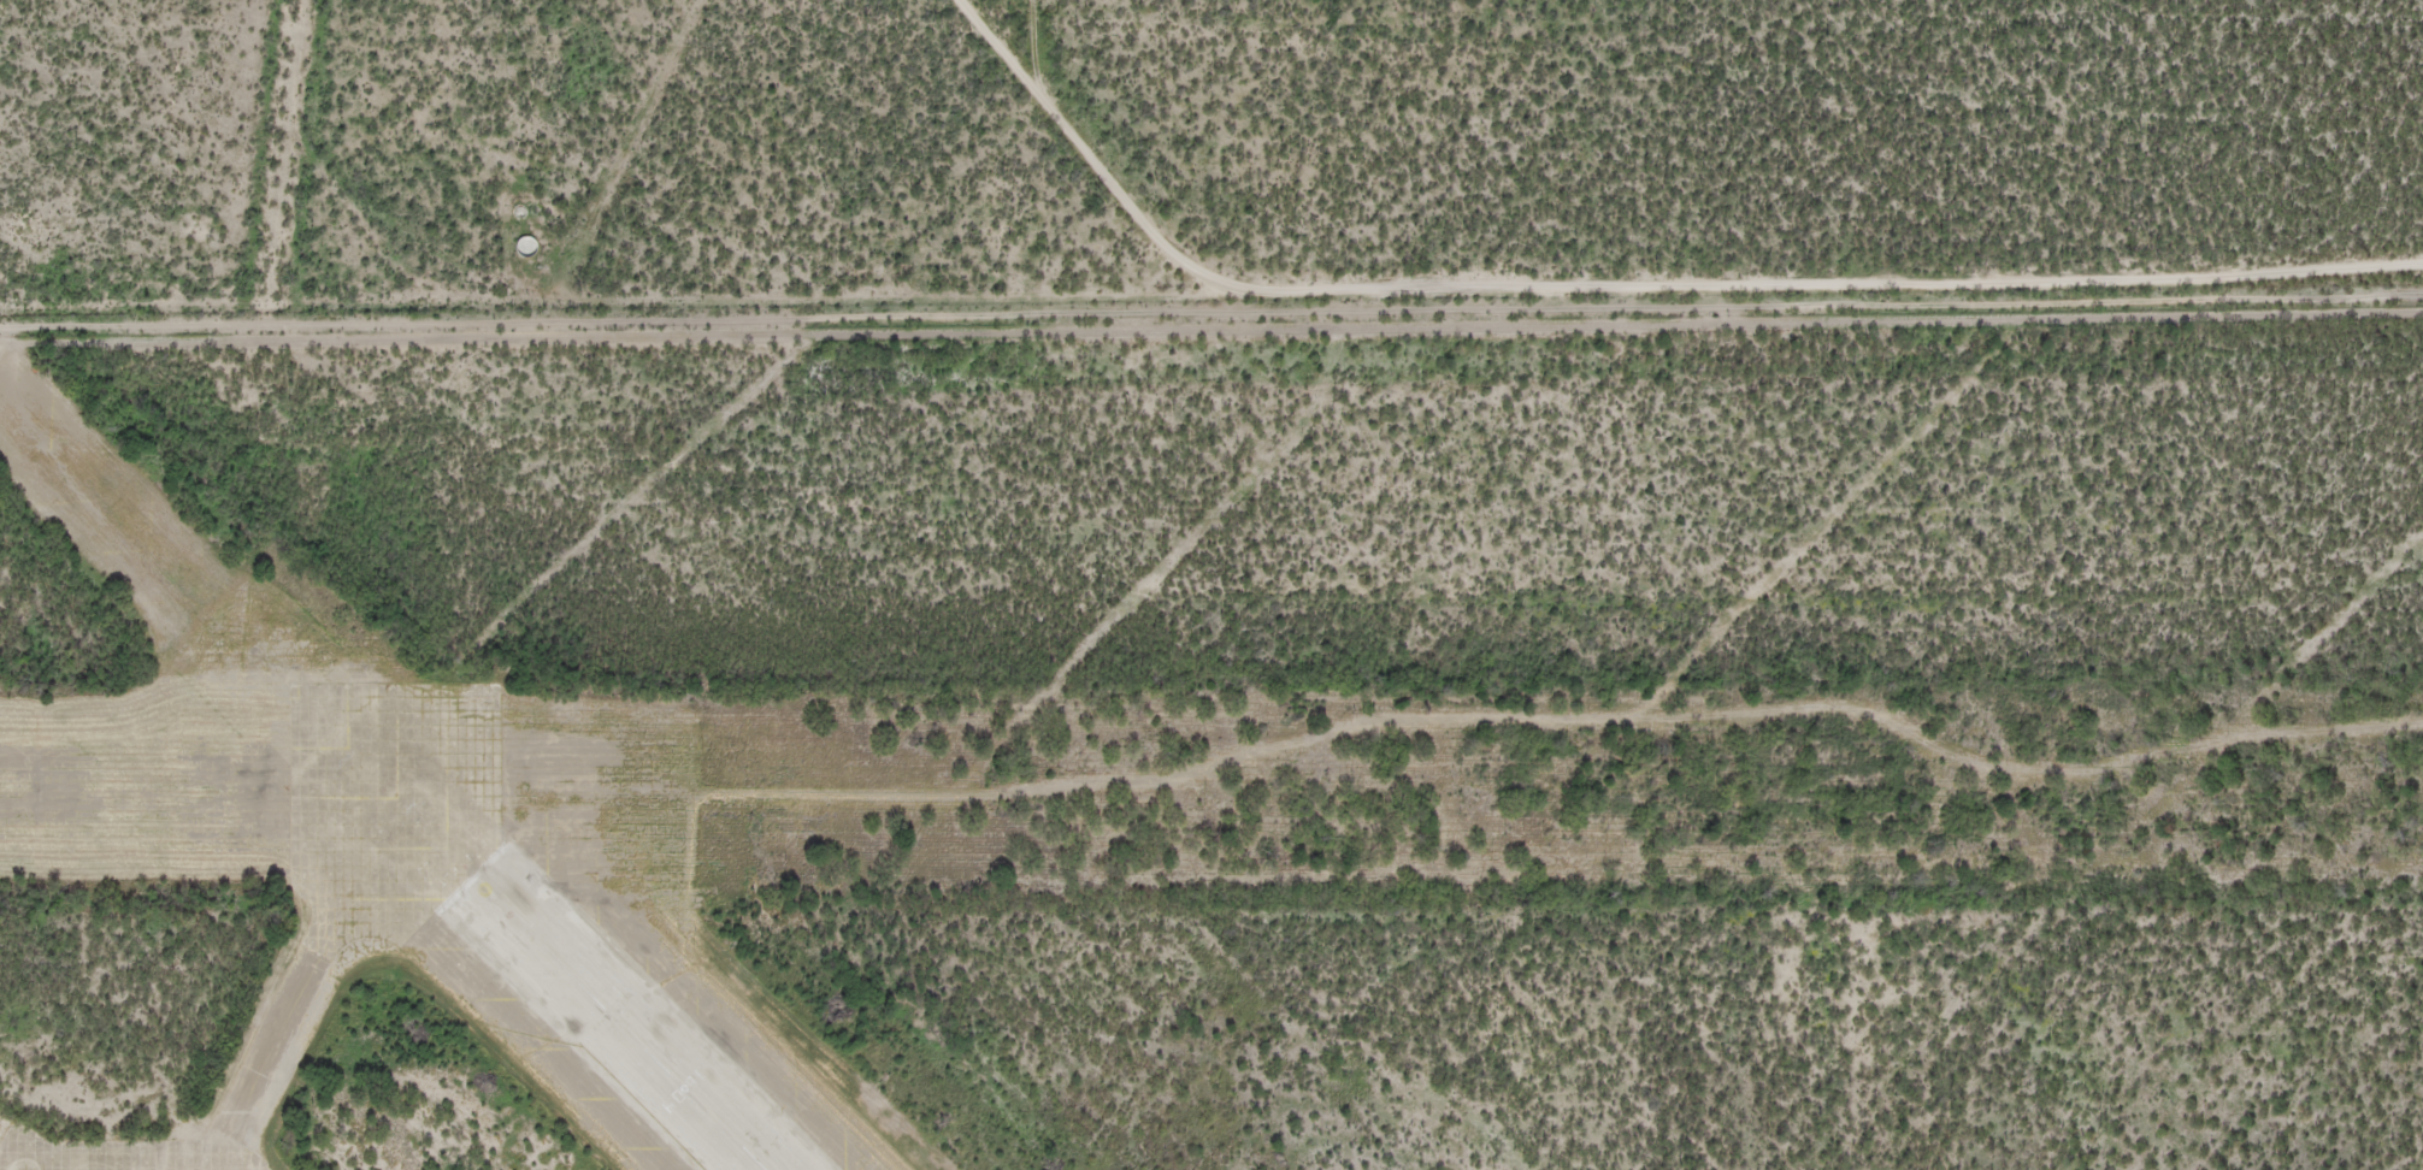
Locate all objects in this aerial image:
road: (956, 146)
road: (1249, 300)
airport: (1219, 737)
airport taxiway: (331, 939)
airport runway: (619, 1026)
airport apron: (130, 1156)

